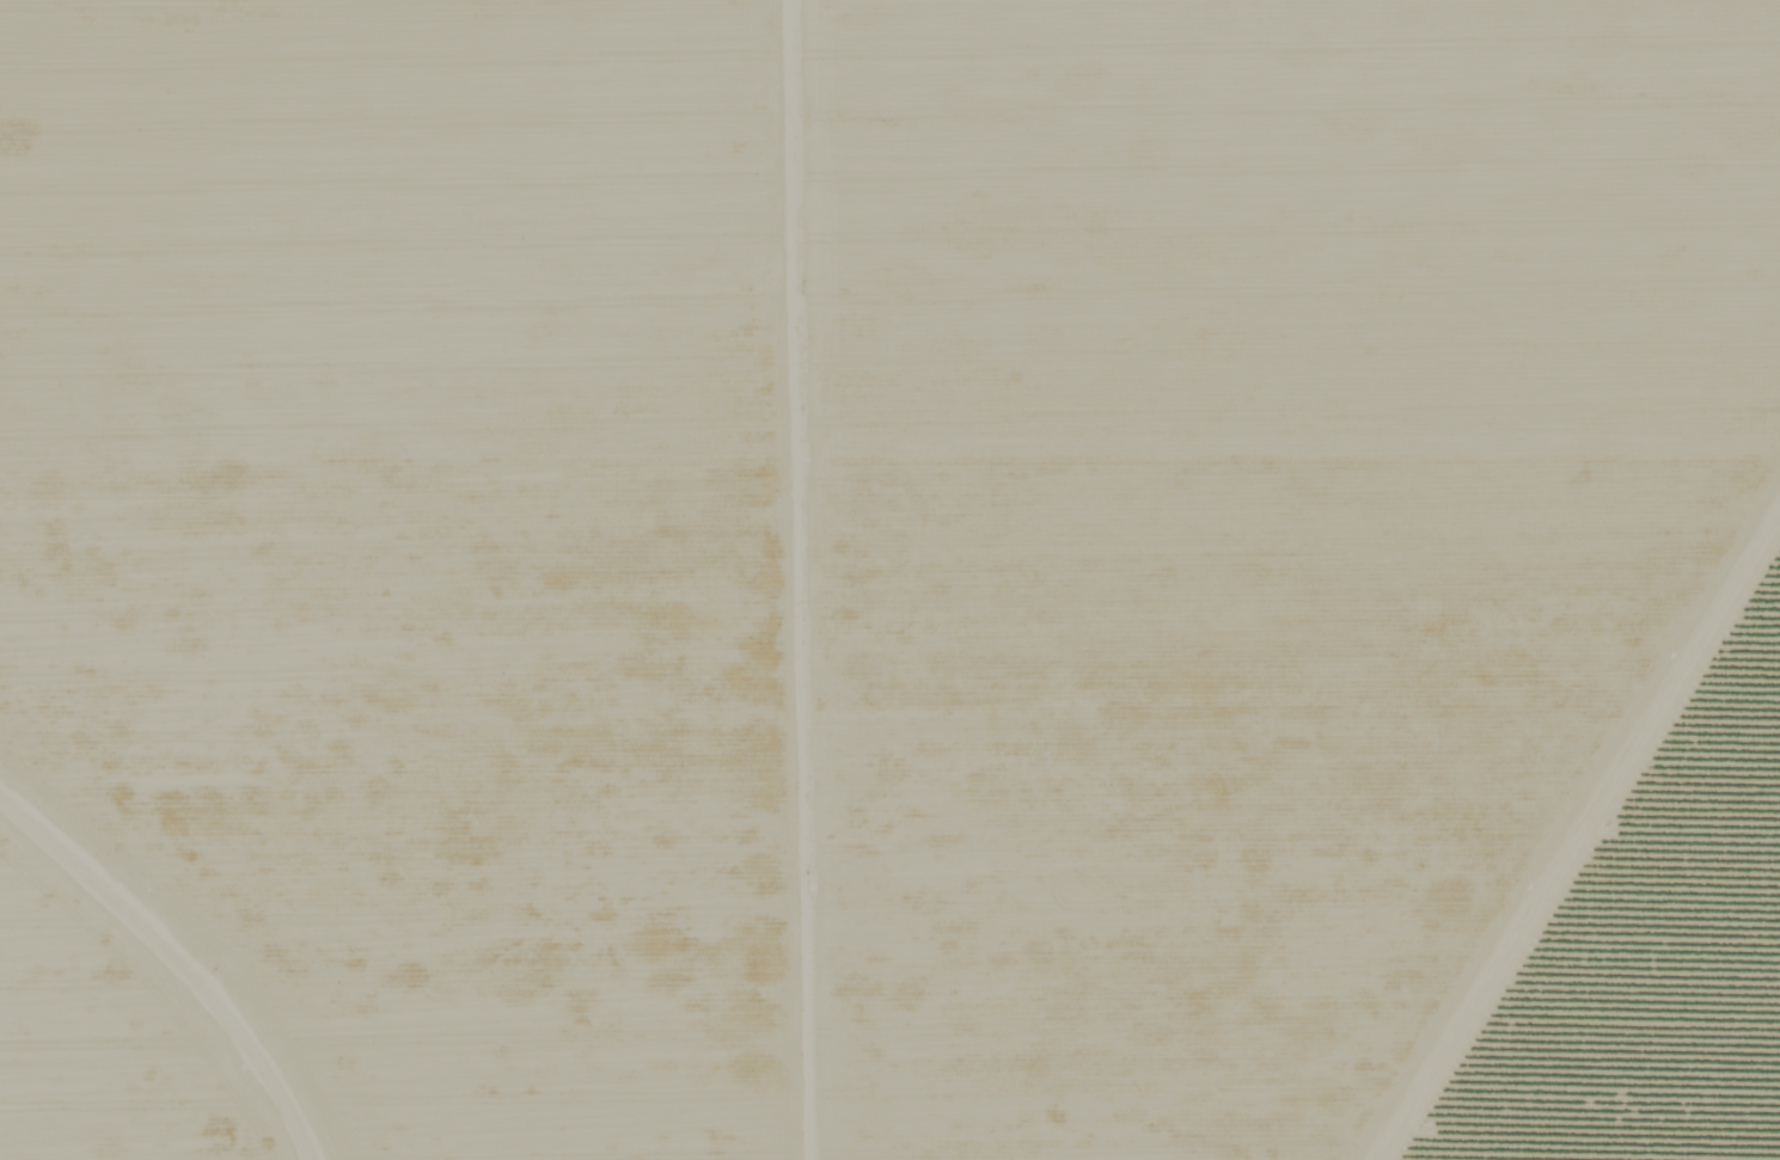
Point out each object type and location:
crop: (839, 556)
road: (1596, 836)
road: (182, 960)

